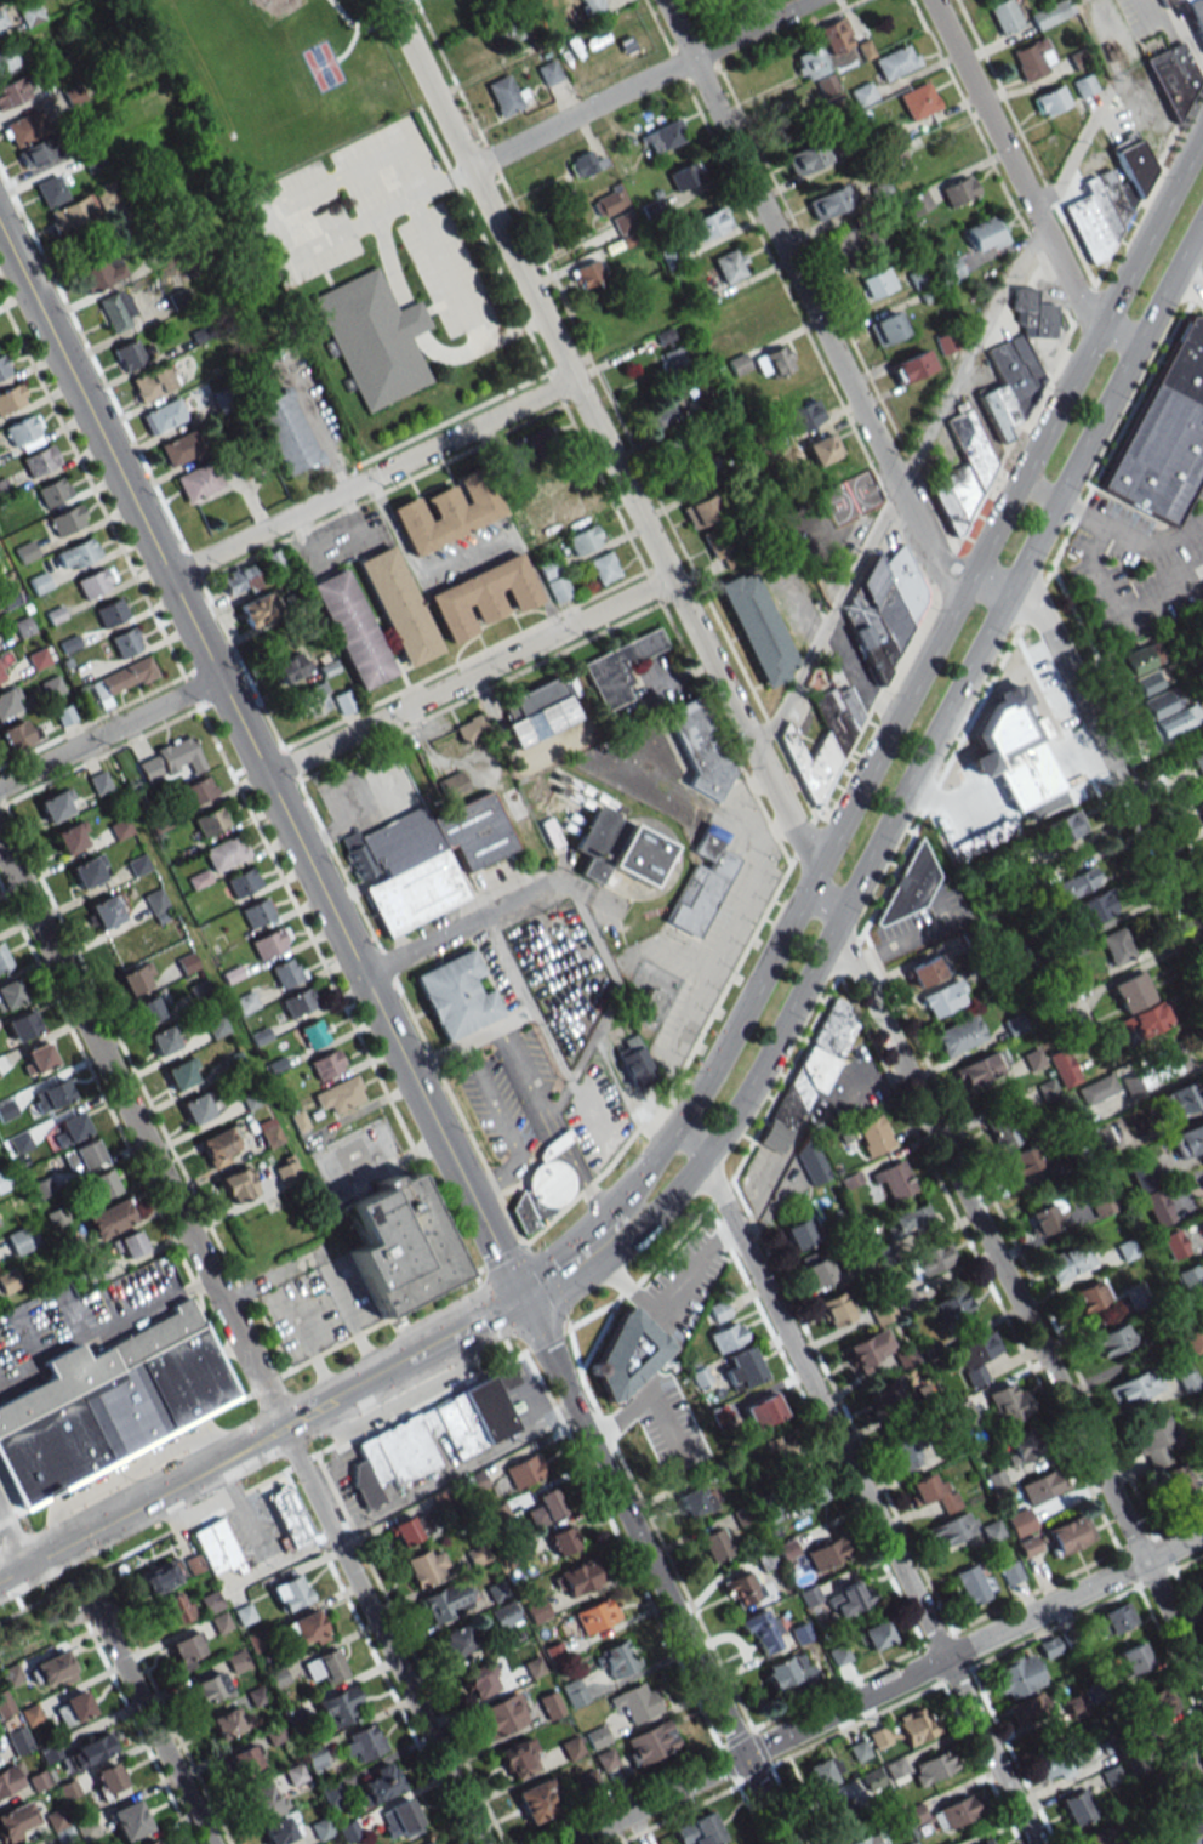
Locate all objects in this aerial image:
building: (1186, 1)
building: (1165, 2)
building: (593, 8)
building: (30, 13)
building: (1047, 15)
building: (1004, 16)
building: (1, 18)
road: (359, 27)
building: (511, 32)
building: (836, 38)
road: (350, 46)
building: (6, 57)
building: (1032, 59)
building: (1079, 59)
building: (895, 62)
park: (323, 67)
building: (547, 72)
park: (280, 75)
building: (1173, 75)
road: (640, 84)
building: (1084, 85)
building: (12, 91)
building: (862, 93)
building: (503, 95)
building: (918, 99)
building: (1049, 99)
building: (23, 127)
building: (662, 135)
building: (34, 153)
building: (805, 158)
building: (585, 164)
building: (897, 164)
building: (685, 175)
road: (1017, 175)
building: (958, 189)
building: (50, 190)
building: (1107, 199)
building: (609, 200)
building: (829, 201)
building: (69, 214)
building: (622, 223)
building: (707, 223)
building: (986, 232)
building: (628, 239)
road: (1198, 241)
building: (851, 244)
building: (671, 255)
building: (729, 264)
building: (951, 269)
road: (446, 272)
building: (99, 273)
building: (586, 274)
building: (919, 278)
road: (1192, 280)
building: (878, 283)
road: (1196, 289)
building: (115, 308)
road: (816, 309)
building: (1036, 314)
building: (885, 328)
building: (371, 336)
road: (1129, 342)
building: (718, 348)
building: (129, 355)
building: (673, 357)
building: (772, 360)
building: (1025, 360)
building: (737, 364)
building: (4, 366)
building: (911, 366)
building: (1010, 377)
building: (150, 382)
building: (11, 398)
building: (1003, 406)
building: (163, 415)
building: (662, 415)
building: (802, 416)
building: (993, 417)
road: (931, 421)
building: (22, 428)
road: (315, 429)
building: (281, 431)
building: (1165, 431)
building: (547, 439)
road: (1117, 443)
building: (678, 446)
building: (179, 448)
building: (822, 449)
building: (971, 450)
road: (609, 453)
building: (39, 460)
building: (555, 476)
road: (1034, 476)
road: (371, 478)
building: (198, 482)
building: (4, 488)
building: (55, 490)
building: (963, 493)
building: (571, 506)
building: (947, 510)
building: (701, 511)
road: (1079, 512)
building: (446, 513)
building: (65, 519)
building: (581, 541)
building: (717, 542)
road: (1152, 547)
building: (25, 551)
building: (76, 552)
building: (603, 568)
building: (554, 580)
building: (93, 581)
building: (238, 581)
building: (39, 582)
road: (959, 592)
building: (483, 594)
building: (8, 598)
road: (1032, 603)
building: (397, 605)
building: (256, 609)
building: (883, 609)
road: (1118, 611)
building: (110, 613)
building: (22, 626)
building: (756, 627)
building: (352, 628)
building: (125, 642)
building: (1139, 658)
building: (0, 664)
building: (289, 667)
building: (620, 667)
building: (136, 672)
building: (0, 678)
road: (469, 678)
building: (1146, 682)
building: (51, 687)
building: (7, 700)
building: (312, 700)
building: (344, 701)
building: (1159, 702)
building: (850, 705)
building: (540, 713)
power substation: (540, 713)
building: (65, 715)
building: (1014, 715)
building: (833, 718)
building: (1174, 722)
building: (471, 729)
road: (109, 733)
building: (18, 734)
building: (700, 746)
road: (1111, 753)
road: (923, 757)
building: (170, 759)
building: (811, 762)
building: (1198, 763)
road: (262, 768)
road: (939, 780)
building: (452, 785)
building: (1054, 786)
building: (198, 790)
building: (58, 804)
building: (1199, 809)
road: (1111, 819)
building: (210, 821)
building: (1065, 826)
building: (475, 832)
building: (401, 840)
building: (617, 847)
building: (714, 850)
building: (224, 853)
building: (89, 871)
building: (241, 882)
building: (1074, 884)
building: (907, 887)
building: (415, 892)
building: (695, 898)
building: (155, 901)
building: (1094, 907)
building: (106, 911)
building: (256, 912)
road: (452, 929)
parking lot: (708, 932)
building: (268, 943)
road: (600, 945)
building: (1116, 945)
parking lot: (552, 947)
road: (848, 955)
building: (1, 958)
building: (927, 969)
building: (286, 972)
building: (137, 978)
building: (1131, 991)
building: (10, 994)
building: (455, 995)
road: (528, 998)
building: (943, 998)
building: (651, 1000)
building: (300, 1002)
parking lot: (575, 1008)
building: (147, 1009)
building: (1142, 1021)
building: (22, 1025)
building: (315, 1032)
building: (958, 1035)
building: (163, 1040)
road: (471, 1041)
road: (364, 1047)
road: (585, 1057)
building: (38, 1058)
building: (635, 1060)
building: (324, 1065)
building: (1062, 1066)
building: (811, 1069)
building: (979, 1069)
building: (1154, 1072)
building: (182, 1074)
parking lot: (528, 1076)
road: (783, 1078)
road: (526, 1081)
road: (628, 1088)
building: (1096, 1089)
building: (340, 1094)
building: (50, 1097)
building: (1179, 1099)
road: (557, 1100)
building: (200, 1106)
parking lot: (497, 1112)
building: (70, 1128)
road: (507, 1128)
building: (1002, 1128)
building: (268, 1132)
building: (873, 1136)
road: (680, 1139)
building: (1101, 1139)
building: (1188, 1139)
road: (557, 1142)
building: (219, 1145)
road: (657, 1154)
road: (695, 1154)
building: (81, 1156)
building: (810, 1161)
building: (1021, 1161)
building: (286, 1171)
building: (1202, 1177)
building: (893, 1179)
building: (102, 1184)
building: (236, 1184)
road: (586, 1185)
building: (545, 1186)
road: (720, 1194)
building: (1151, 1194)
building: (1100, 1201)
building: (108, 1218)
building: (1043, 1219)
building: (902, 1230)
building: (802, 1231)
road: (1010, 1235)
building: (21, 1239)
building: (398, 1243)
building: (1174, 1243)
building: (127, 1245)
building: (930, 1259)
building: (1068, 1262)
road: (980, 1265)
building: (96, 1271)
building: (816, 1271)
road: (645, 1274)
road: (559, 1277)
building: (8, 1280)
building: (1191, 1282)
road: (1014, 1288)
building: (1136, 1294)
building: (1088, 1297)
traffic signals: (524, 1307)
parking lot: (317, 1308)
building: (953, 1308)
building: (836, 1309)
road: (353, 1324)
building: (724, 1327)
road: (598, 1338)
building: (1193, 1338)
building: (1112, 1341)
road: (243, 1343)
road: (503, 1343)
road: (440, 1348)
building: (868, 1349)
building: (626, 1353)
building: (975, 1355)
building: (742, 1368)
building: (1187, 1381)
building: (1134, 1388)
road: (238, 1396)
building: (110, 1401)
building: (1008, 1402)
road: (843, 1408)
building: (762, 1411)
road: (817, 1428)
building: (1153, 1441)
building: (1024, 1444)
building: (394, 1447)
building: (780, 1452)
building: (903, 1452)
building: (521, 1470)
road: (129, 1473)
road: (455, 1473)
building: (994, 1480)
road: (178, 1482)
building: (1178, 1482)
building: (1039, 1487)
building: (933, 1492)
building: (804, 1495)
building: (695, 1501)
road: (870, 1502)
building: (543, 1507)
building: (286, 1515)
building: (1020, 1523)
road: (1175, 1524)
building: (409, 1529)
road: (654, 1529)
building: (950, 1530)
building: (1070, 1533)
building: (560, 1539)
road: (1138, 1541)
road: (11, 1542)
building: (712, 1544)
building: (217, 1547)
road: (1164, 1552)
building: (827, 1553)
road: (1184, 1564)
building: (426, 1565)
road: (1129, 1569)
road: (655, 1575)
building: (160, 1576)
building: (578, 1577)
road: (1156, 1578)
building: (970, 1584)
building: (740, 1589)
road: (1037, 1590)
building: (289, 1593)
building: (809, 1595)
road: (1187, 1597)
building: (848, 1598)
building: (439, 1604)
building: (173, 1609)
building: (536, 1610)
building: (215, 1611)
building: (245, 1615)
building: (503, 1615)
building: (594, 1615)
building: (1116, 1618)
road: (1055, 1626)
building: (306, 1629)
building: (764, 1630)
building: (800, 1633)
building: (874, 1635)
road: (937, 1638)
building: (456, 1640)
building: (187, 1650)
road: (960, 1650)
road: (1169, 1651)
building: (838, 1655)
building: (616, 1658)
building: (1130, 1660)
road: (933, 1664)
building: (324, 1666)
building: (53, 1671)
building: (788, 1672)
road: (956, 1675)
building: (1016, 1677)
building: (480, 1679)
road: (839, 1686)
building: (209, 1688)
road: (884, 1688)
building: (574, 1692)
building: (635, 1701)
building: (1158, 1702)
building: (549, 1704)
building: (337, 1706)
building: (72, 1708)
building: (1028, 1711)
building: (501, 1714)
building: (228, 1721)
road: (150, 1724)
road: (855, 1724)
building: (917, 1726)
building: (597, 1736)
building: (879, 1737)
building: (18, 1740)
building: (363, 1742)
building: (650, 1742)
road: (760, 1747)
building: (857, 1751)
building: (80, 1752)
road: (1011, 1753)
traffic signals: (743, 1757)
building: (515, 1758)
building: (244, 1759)
road: (979, 1760)
building: (1062, 1760)
building: (1180, 1760)
building: (933, 1766)
building: (895, 1768)
building: (823, 1771)
building: (871, 1778)
building: (8, 1780)
building: (38, 1781)
building: (108, 1781)
building: (378, 1783)
building: (537, 1799)
building: (1190, 1799)
building: (263, 1800)
road: (787, 1802)
building: (1077, 1806)
building: (842, 1811)
building: (953, 1812)
building: (398, 1819)
building: (129, 1820)
building: (16, 1821)
building: (1192, 1823)
building: (86, 1828)
building: (321, 1828)
building: (347, 1831)
building: (699, 1831)
building: (1096, 1837)
building: (860, 1840)
building: (149, 1842)
building: (986, 1842)
building: (1199, 1842)
building: (428, 1843)
building: (908, 1843)

